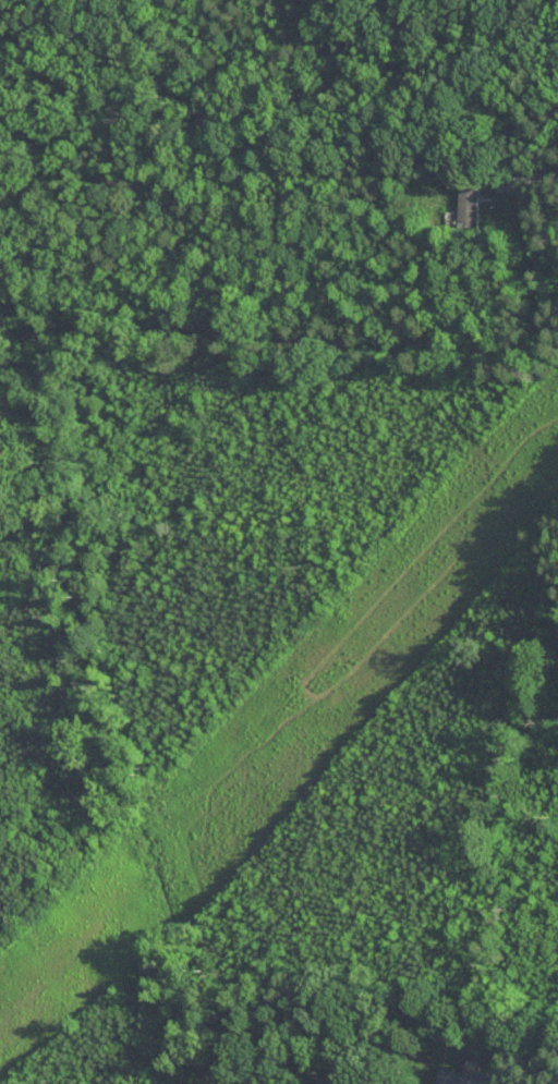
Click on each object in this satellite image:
road: (532, 179)
building: (465, 203)
building: (477, 1080)

